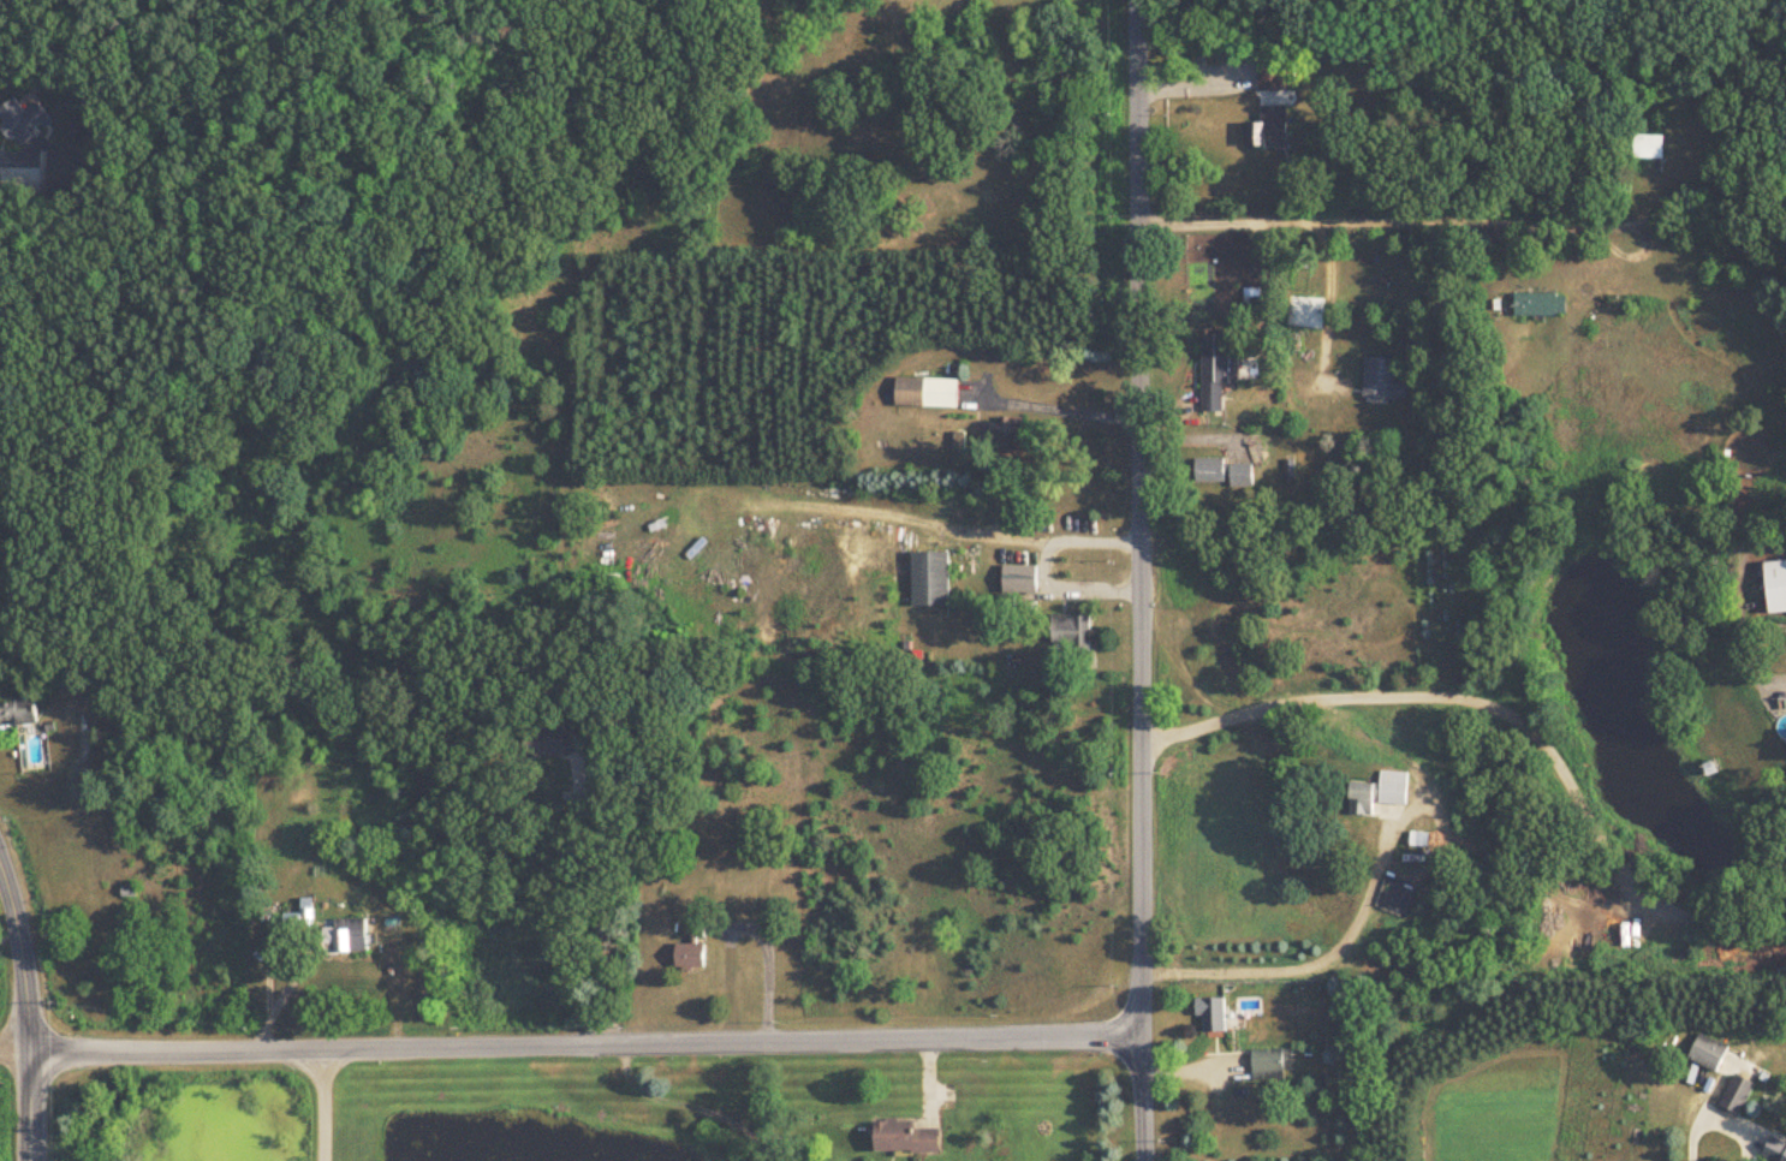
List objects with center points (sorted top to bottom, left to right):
building: (1273, 77)
building: (23, 120)
building: (1274, 127)
building: (1654, 147)
road: (20, 157)
road: (1451, 225)
road: (1327, 299)
building: (1544, 305)
building: (1218, 374)
building: (1383, 380)
building: (929, 393)
road: (1058, 412)
building: (1214, 471)
road: (1139, 519)
road: (982, 538)
building: (934, 579)
building: (1020, 583)
building: (1779, 585)
road: (1067, 593)
building: (1072, 633)
building: (17, 710)
road: (1505, 726)
building: (556, 743)
building: (1382, 794)
building: (131, 893)
road: (597, 906)
road: (1358, 919)
building: (351, 937)
building: (693, 949)
road: (22, 953)
road: (1463, 971)
road: (276, 1004)
building: (1215, 1017)
road: (584, 1044)
road: (14, 1052)
building: (1710, 1053)
building: (1273, 1066)
building: (1738, 1096)
road: (1139, 1100)
road: (325, 1105)
road: (30, 1106)
road: (680, 1108)
building: (909, 1138)
building: (1775, 1150)

